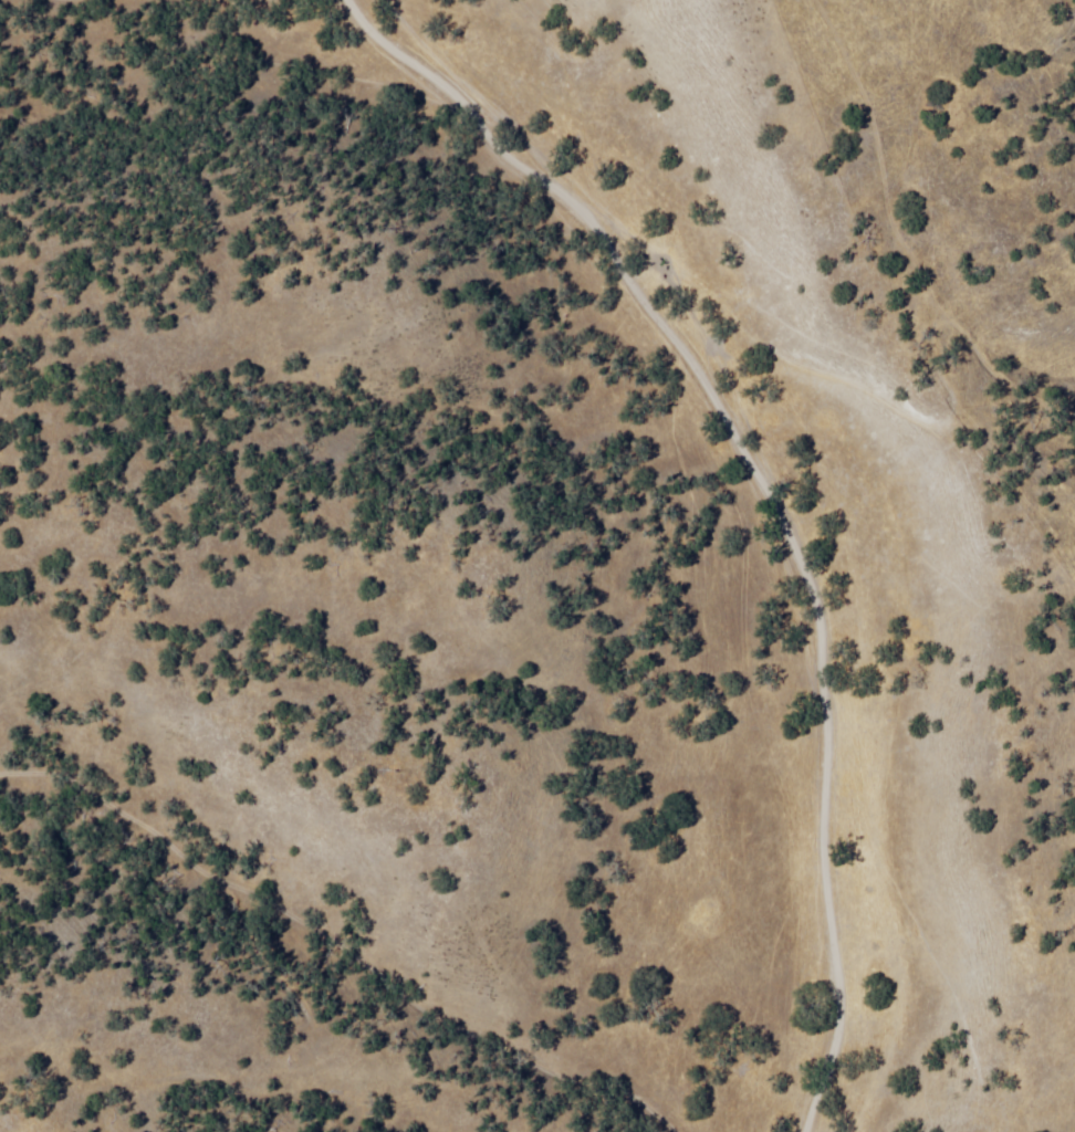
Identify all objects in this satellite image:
road: (781, 479)

